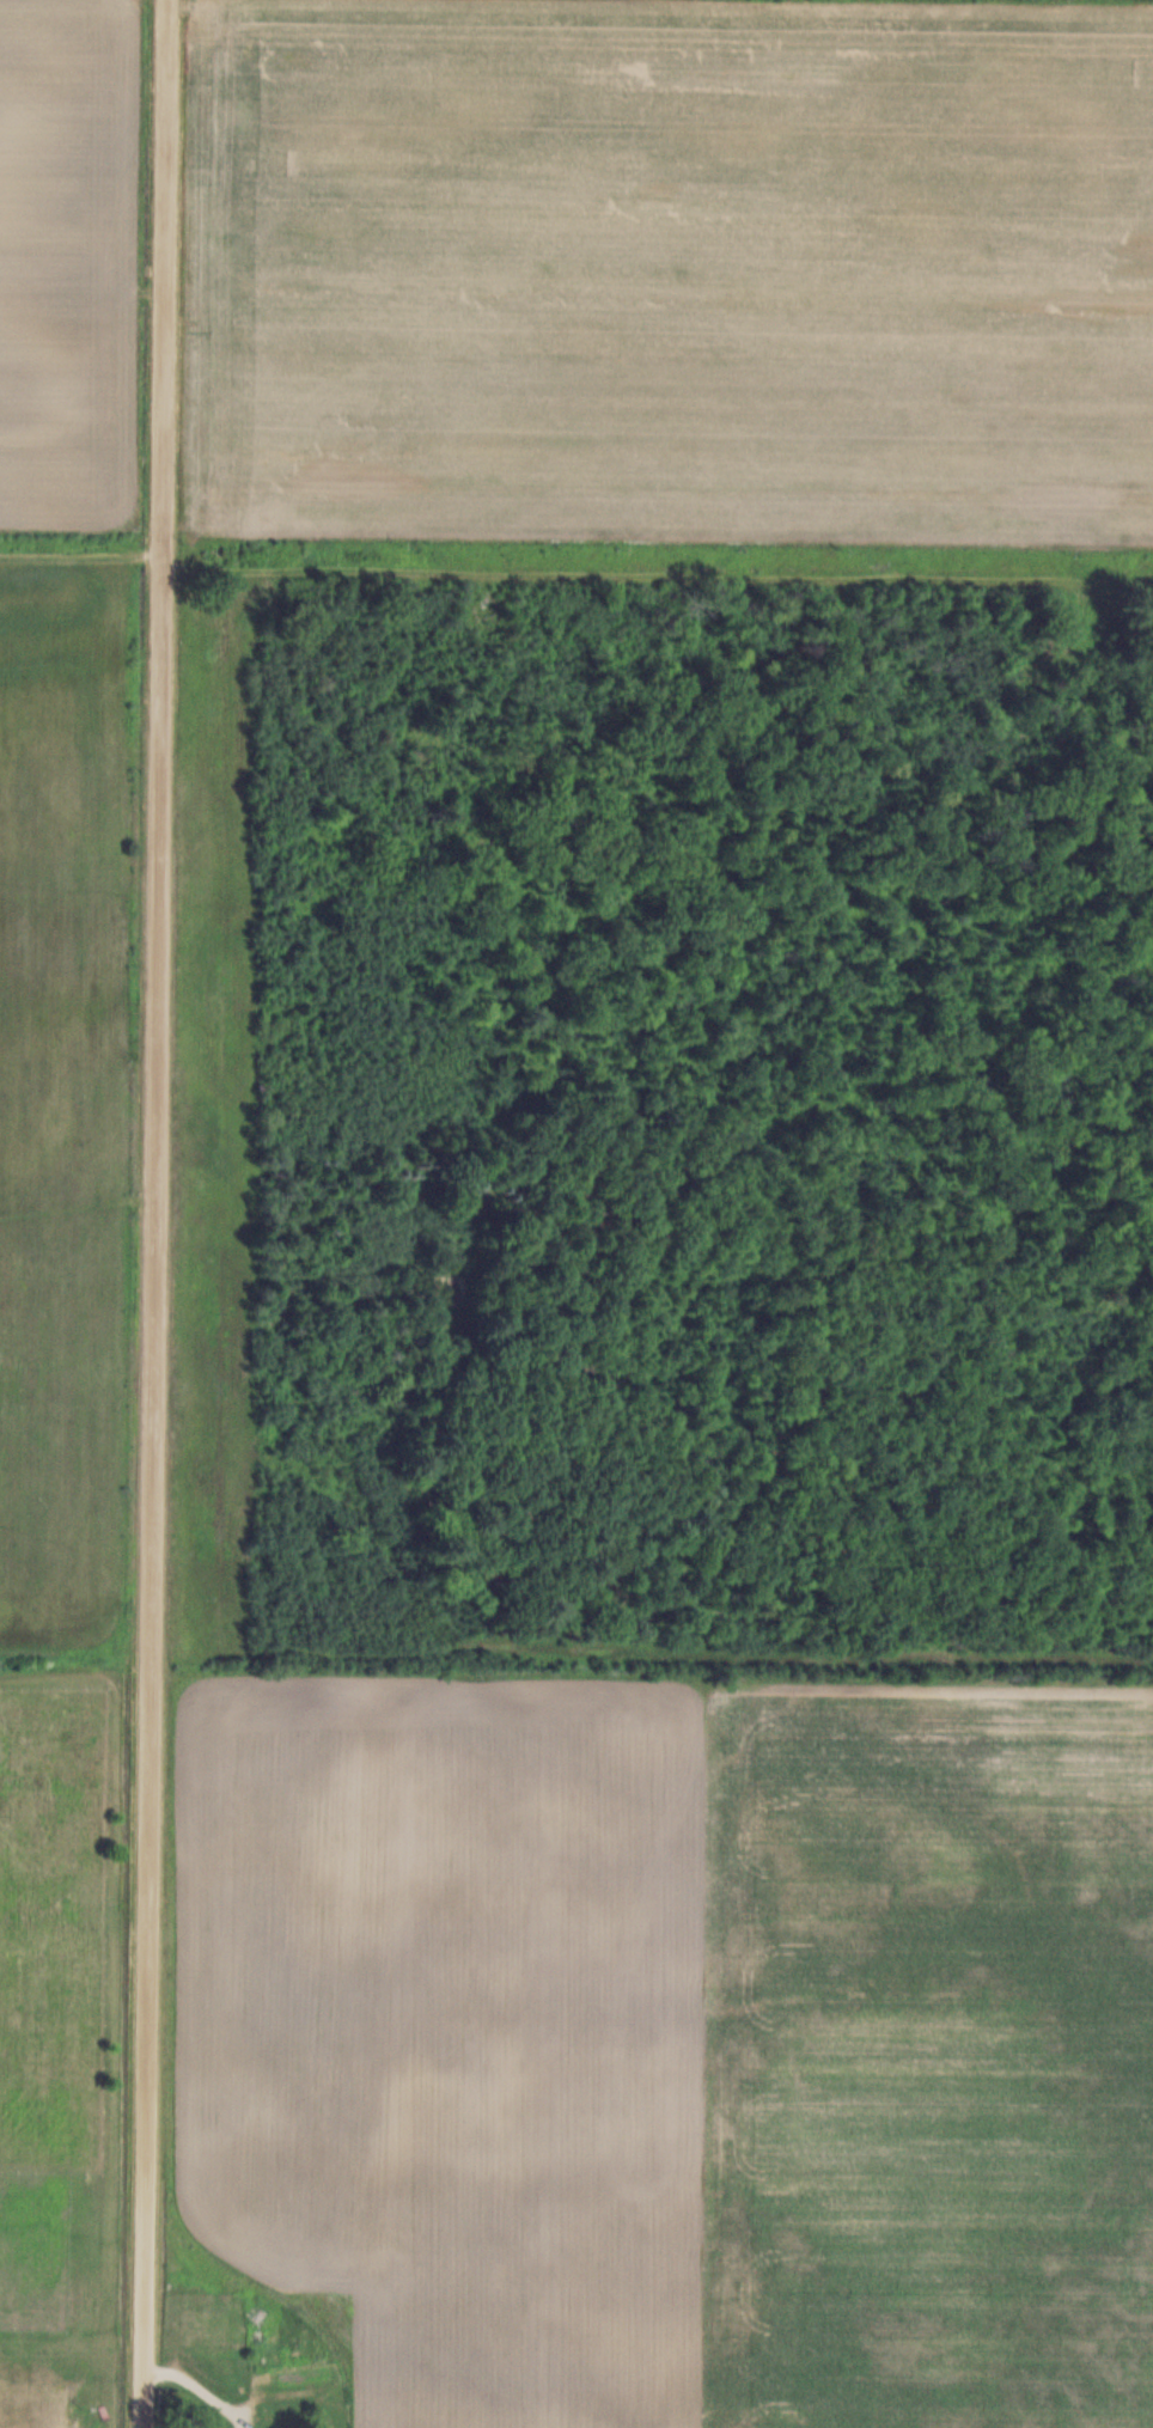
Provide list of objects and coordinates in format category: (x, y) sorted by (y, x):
road: (164, 1214)

